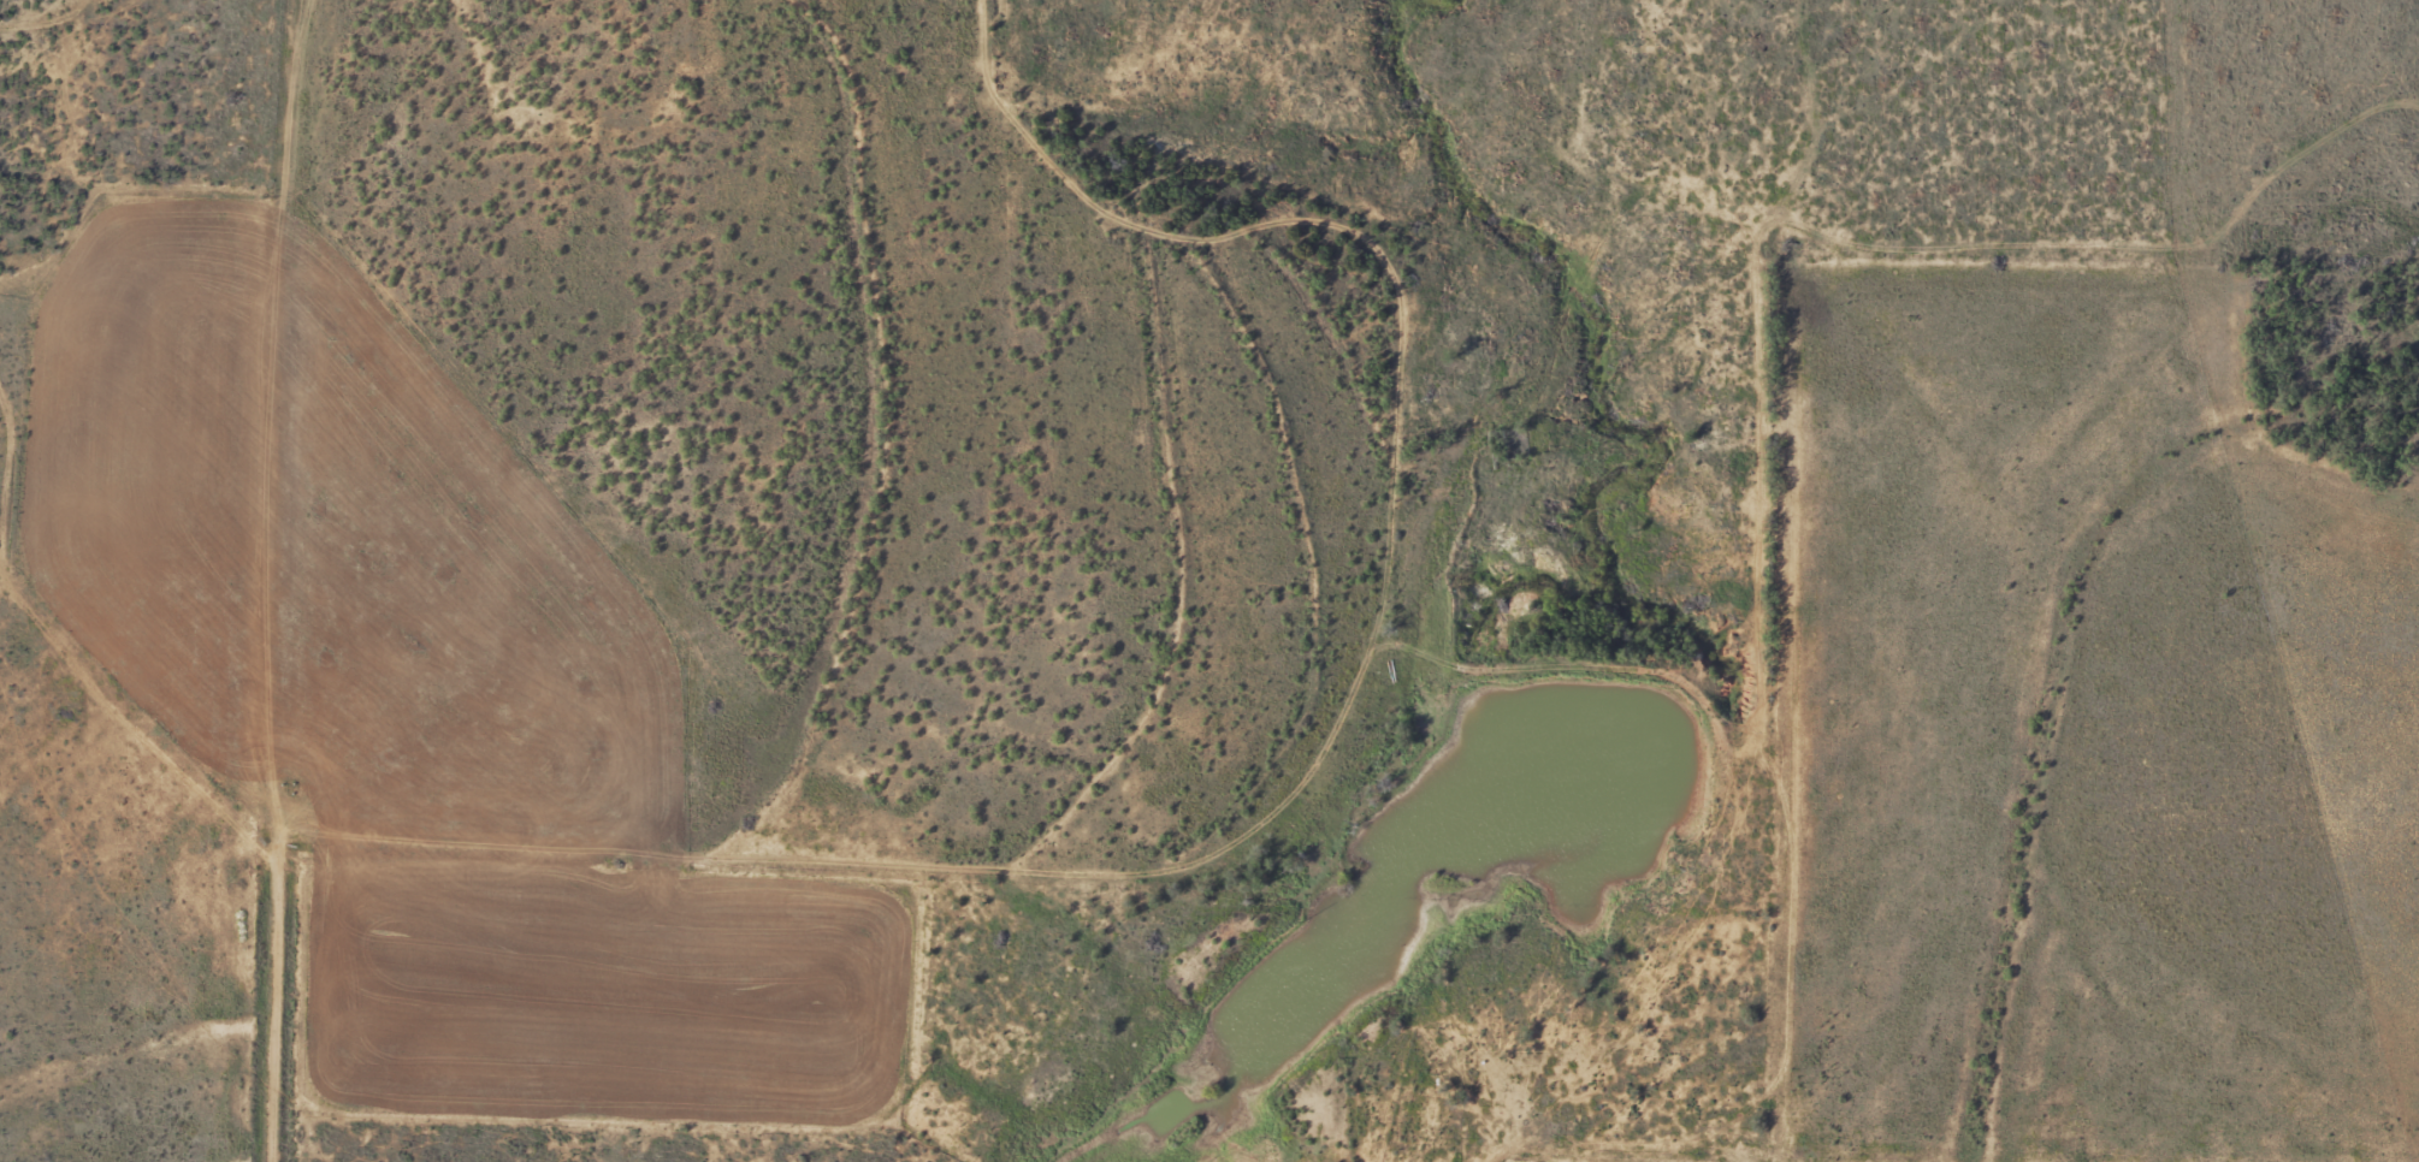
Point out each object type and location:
road: (17, 11)
building: (1435, 493)
road: (260, 581)
road: (1993, 991)

